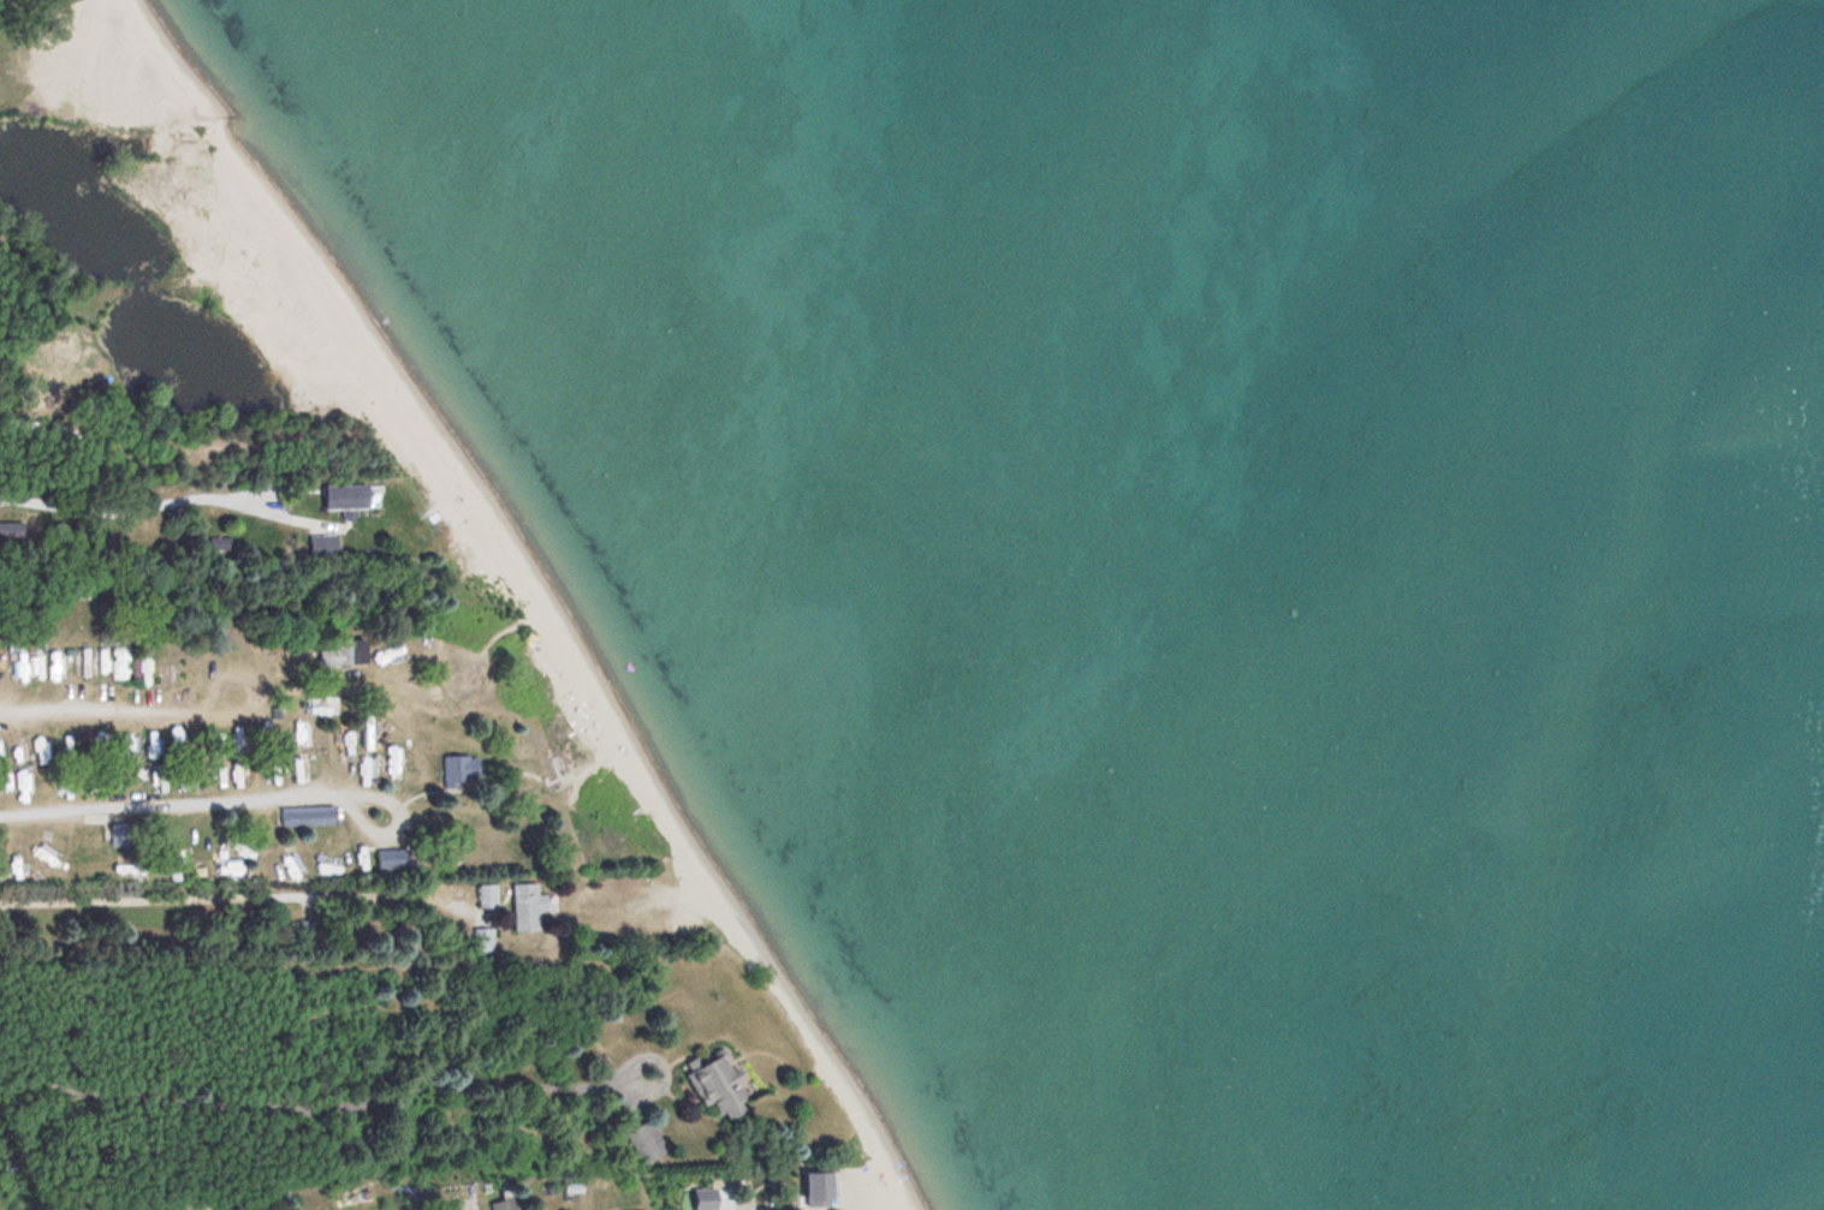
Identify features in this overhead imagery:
building: (334, 499)
building: (316, 547)
building: (338, 652)
road: (111, 716)
building: (177, 746)
building: (153, 751)
building: (289, 771)
building: (453, 773)
building: (159, 782)
road: (173, 806)
building: (307, 818)
road: (398, 829)
building: (239, 848)
building: (384, 862)
building: (485, 899)
building: (519, 907)
building: (480, 942)
building: (707, 1086)
road: (315, 1113)
building: (640, 1144)
building: (810, 1185)
building: (499, 1206)
building: (170, 1208)

